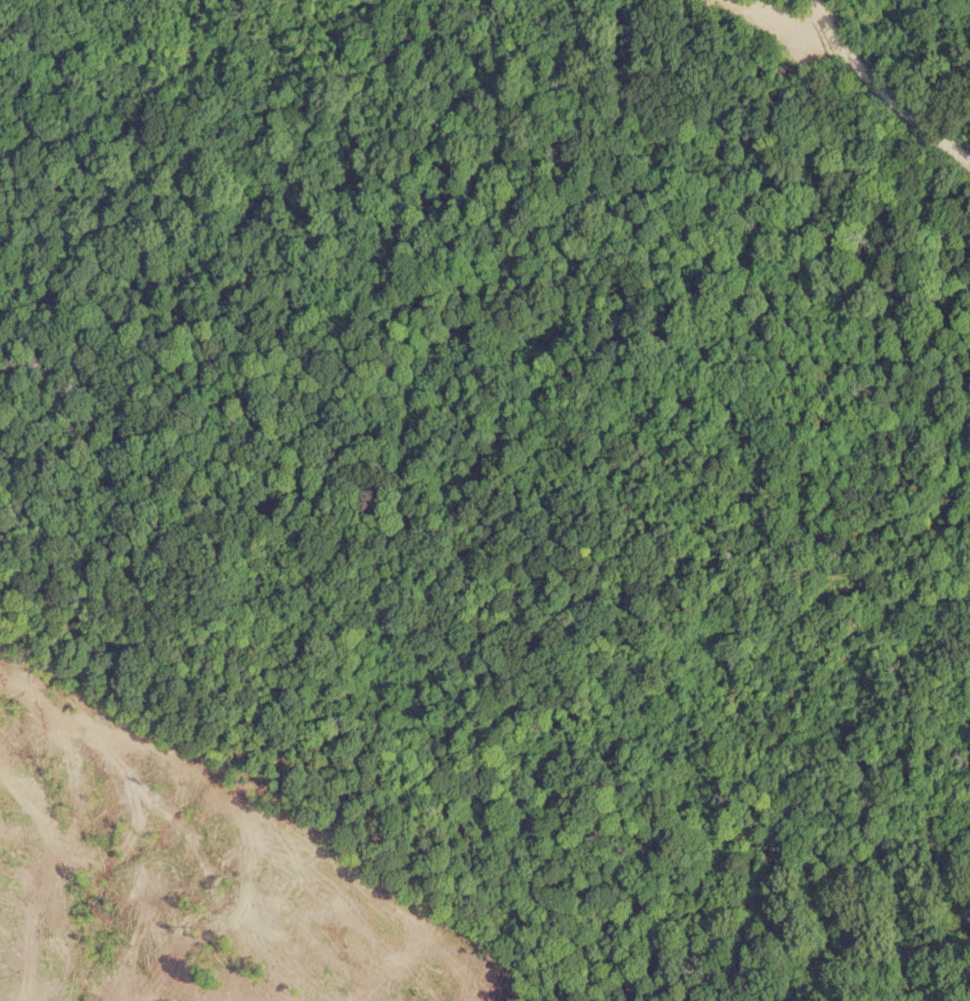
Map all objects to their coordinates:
road: (792, 18)
road: (881, 85)

